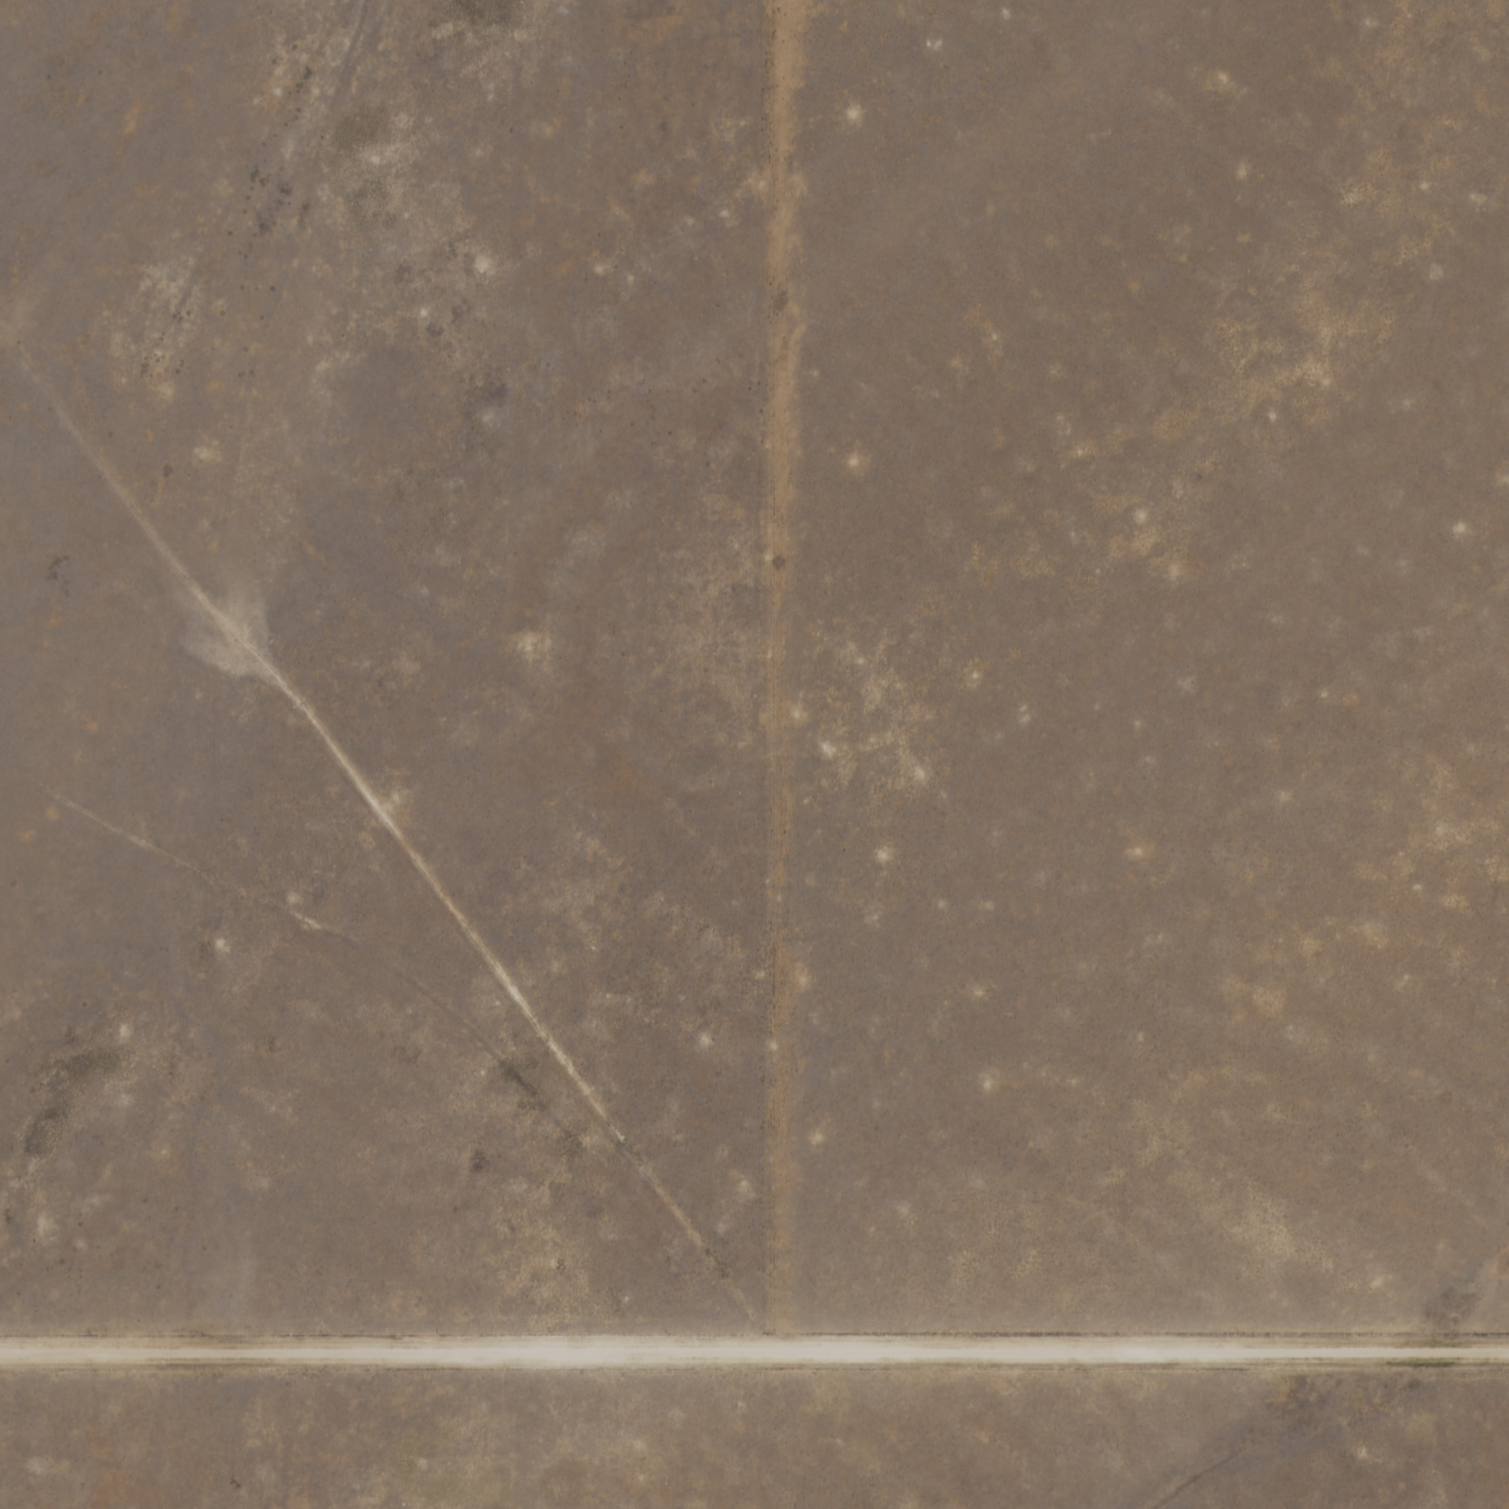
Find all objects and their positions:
road: (754, 1345)

